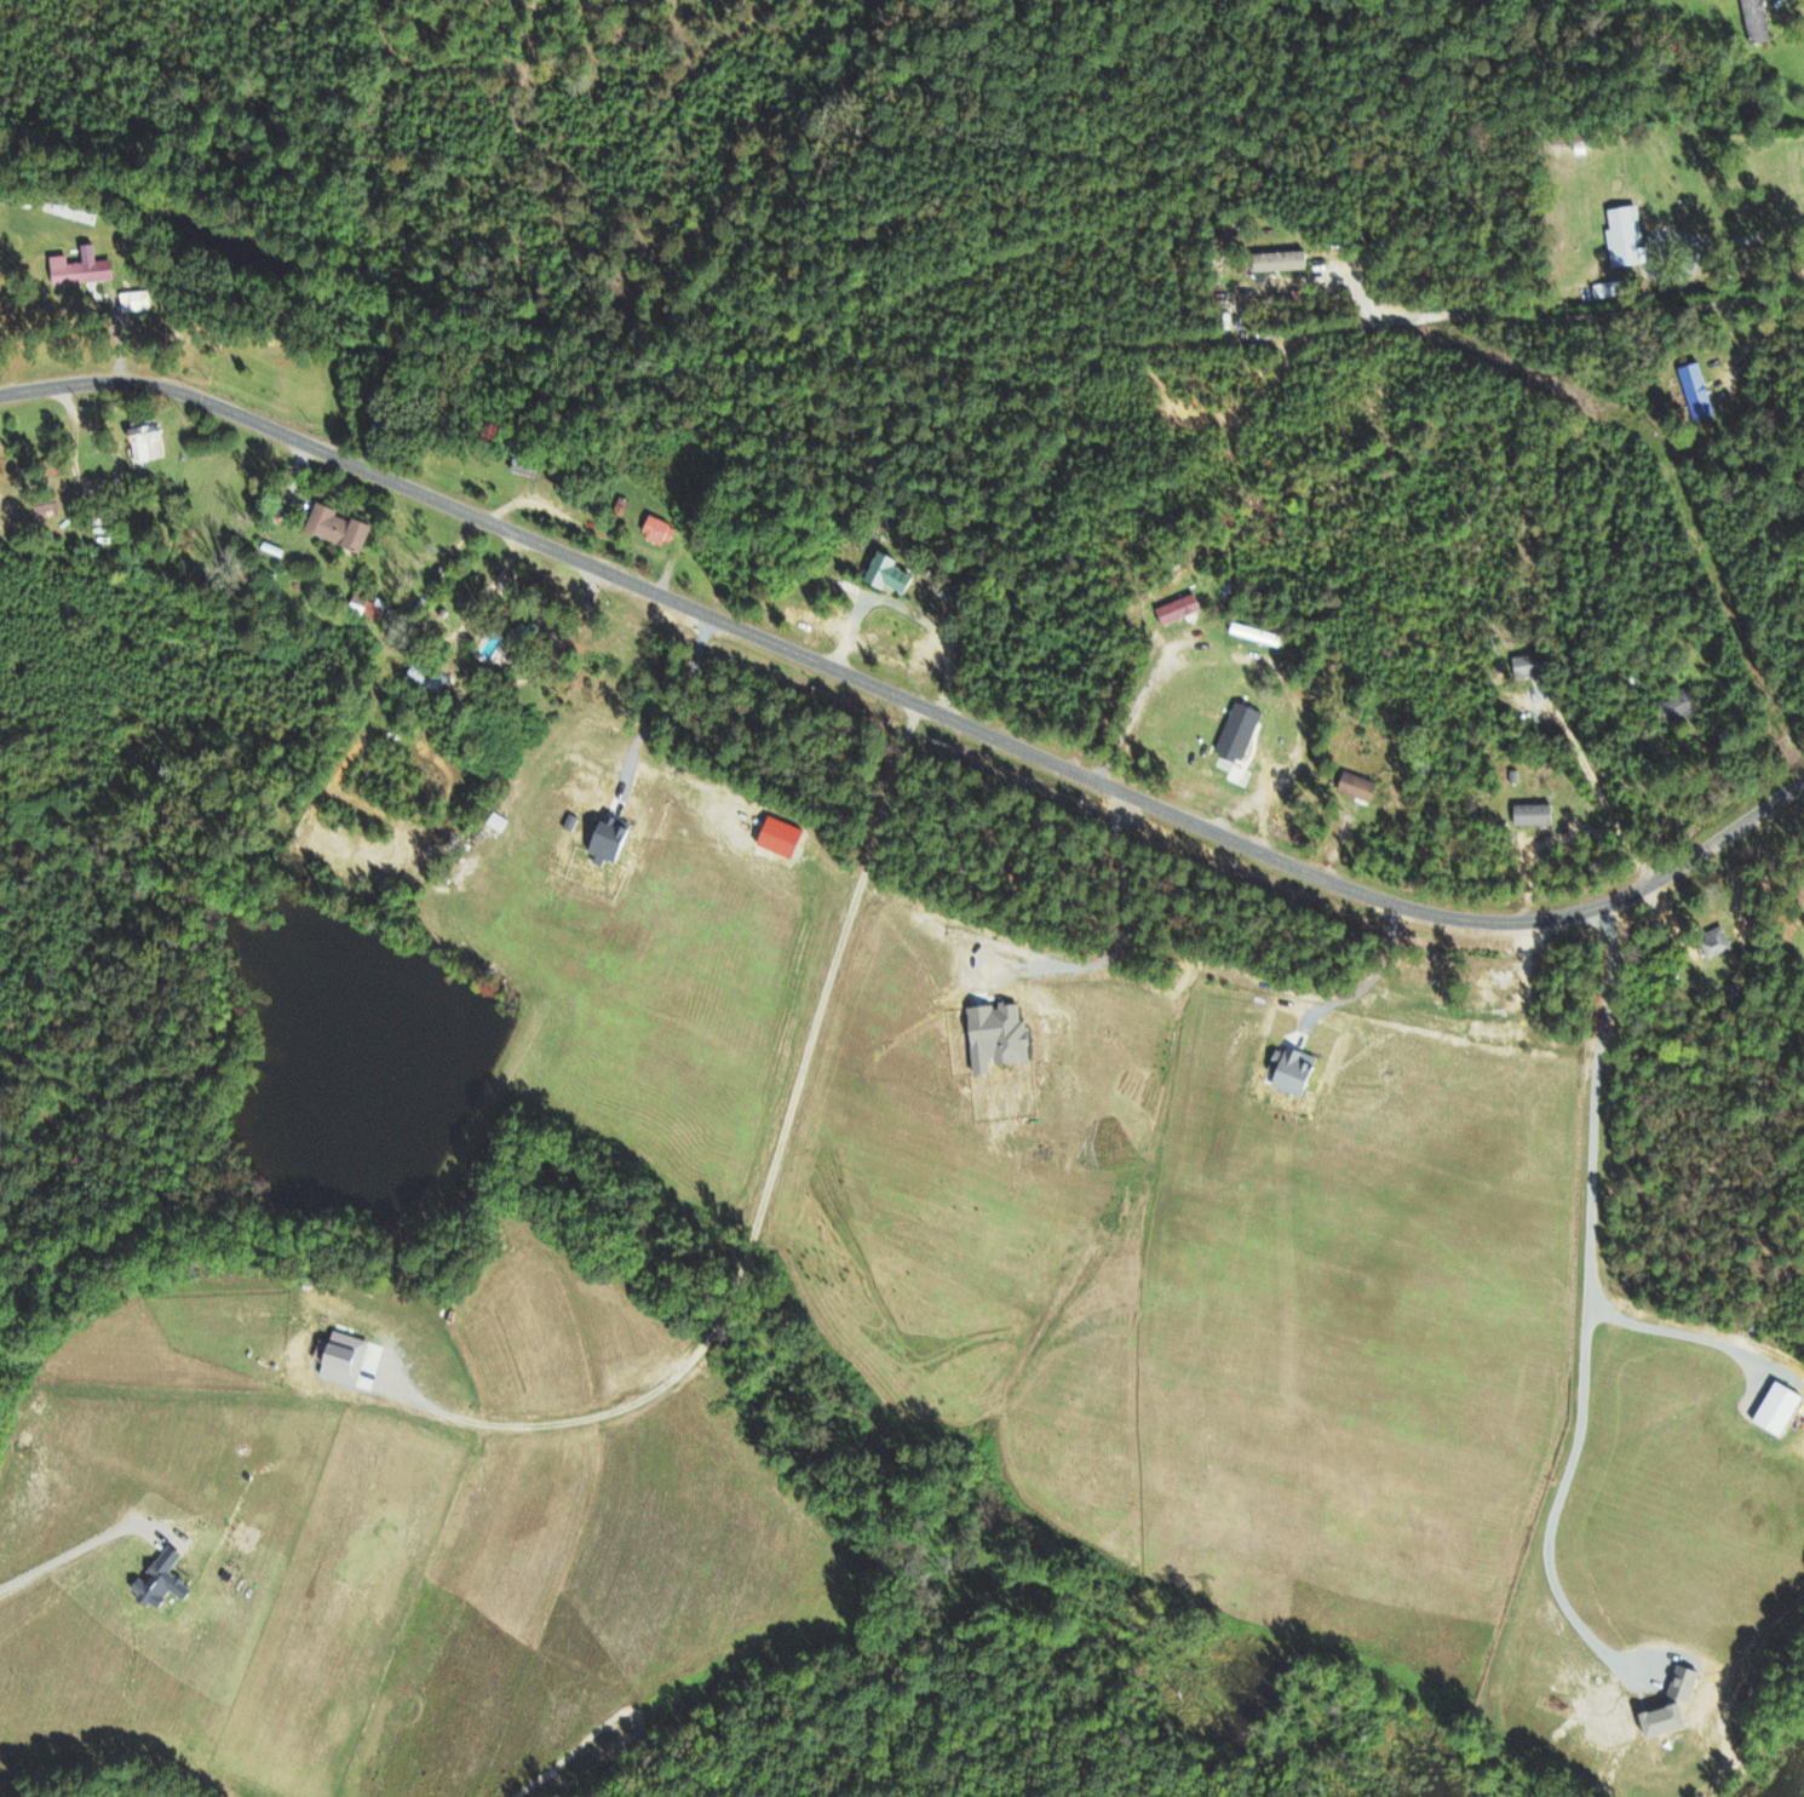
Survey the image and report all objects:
building: (1753, 21)
building: (1621, 235)
road: (1731, 242)
building: (1276, 262)
building: (77, 268)
building: (133, 300)
building: (1694, 391)
building: (142, 440)
building: (617, 510)
building: (334, 527)
building: (655, 529)
building: (884, 572)
building: (364, 605)
building: (1174, 608)
building: (1252, 632)
building: (1526, 665)
building: (424, 674)
building: (1678, 706)
road: (910, 711)
building: (1235, 730)
building: (1354, 786)
road: (1601, 791)
building: (1530, 814)
road: (1539, 840)
building: (1712, 942)
building: (340, 1357)
building: (1774, 1408)
road: (64, 1555)
building: (156, 1580)
building: (1679, 1683)
building: (1658, 1721)

